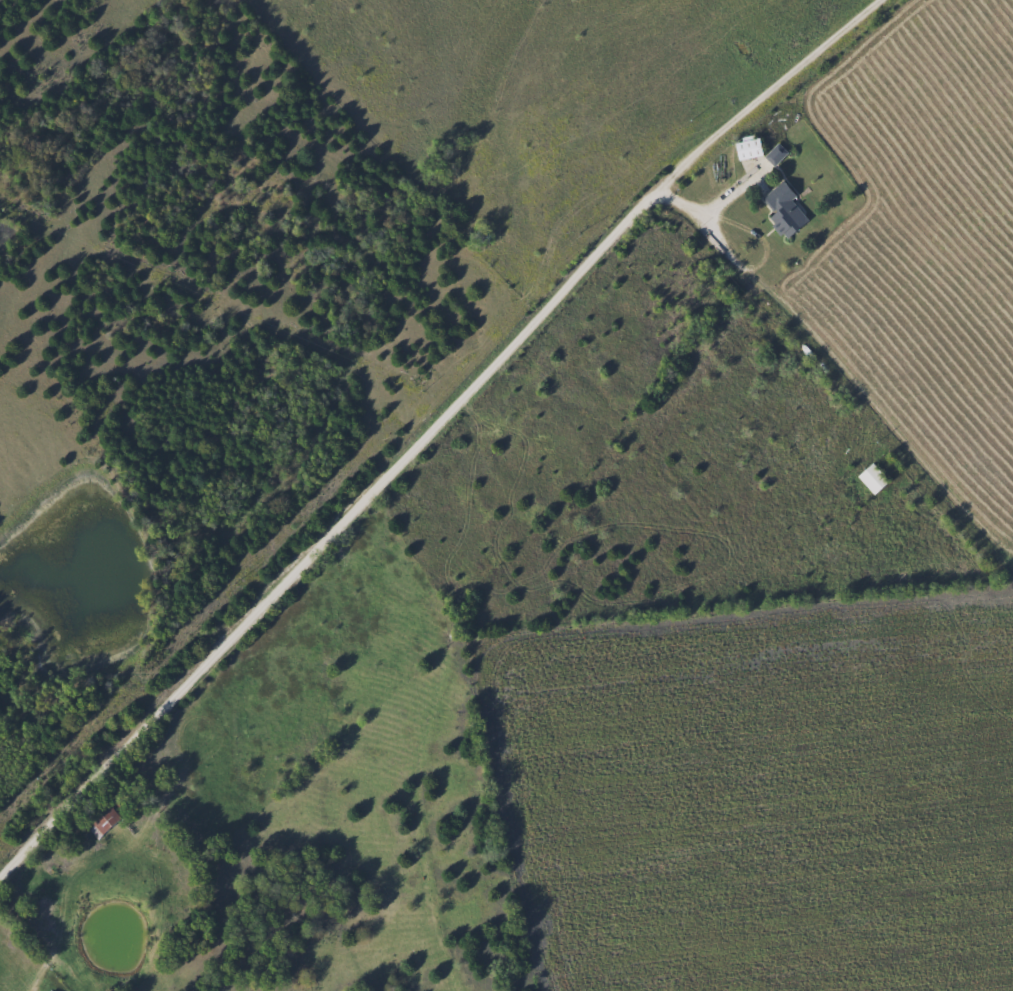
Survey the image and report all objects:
building: (745, 148)
road: (710, 209)
building: (782, 210)
road: (435, 427)
building: (870, 478)
building: (98, 819)

